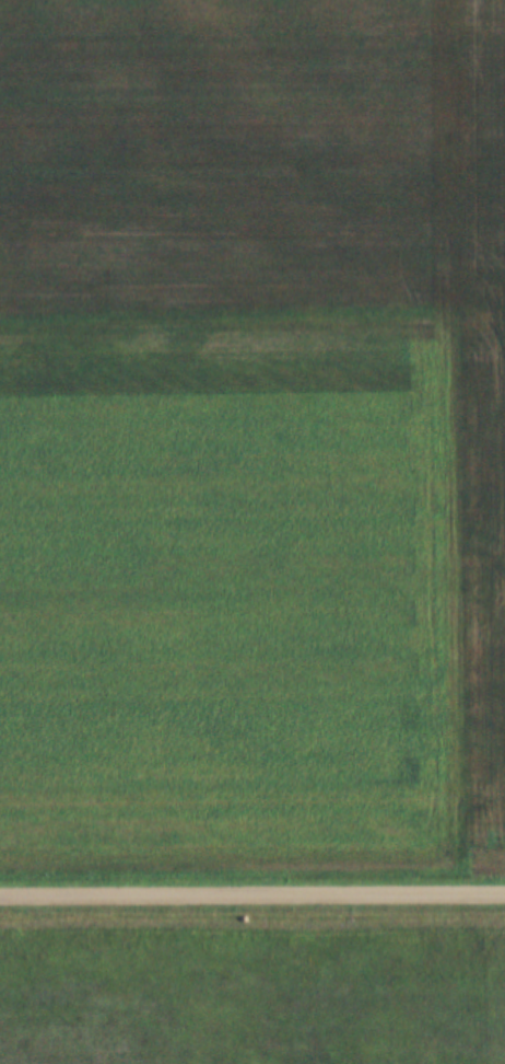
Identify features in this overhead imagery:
road: (252, 892)

